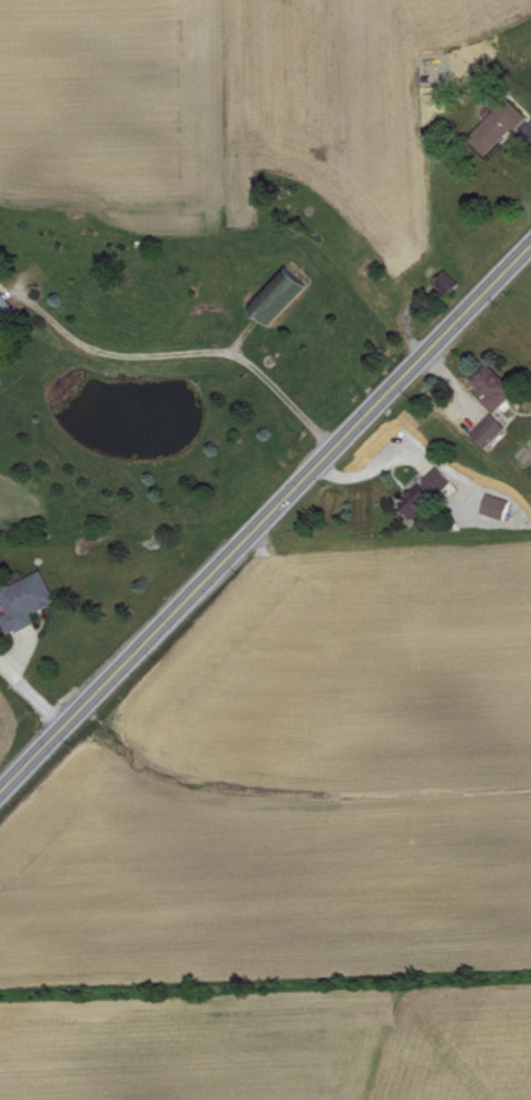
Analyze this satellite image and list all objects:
building: (504, 130)
building: (454, 286)
building: (286, 298)
building: (8, 310)
road: (189, 353)
building: (501, 390)
building: (495, 434)
building: (444, 483)
building: (422, 503)
building: (503, 511)
road: (265, 518)
building: (31, 605)

